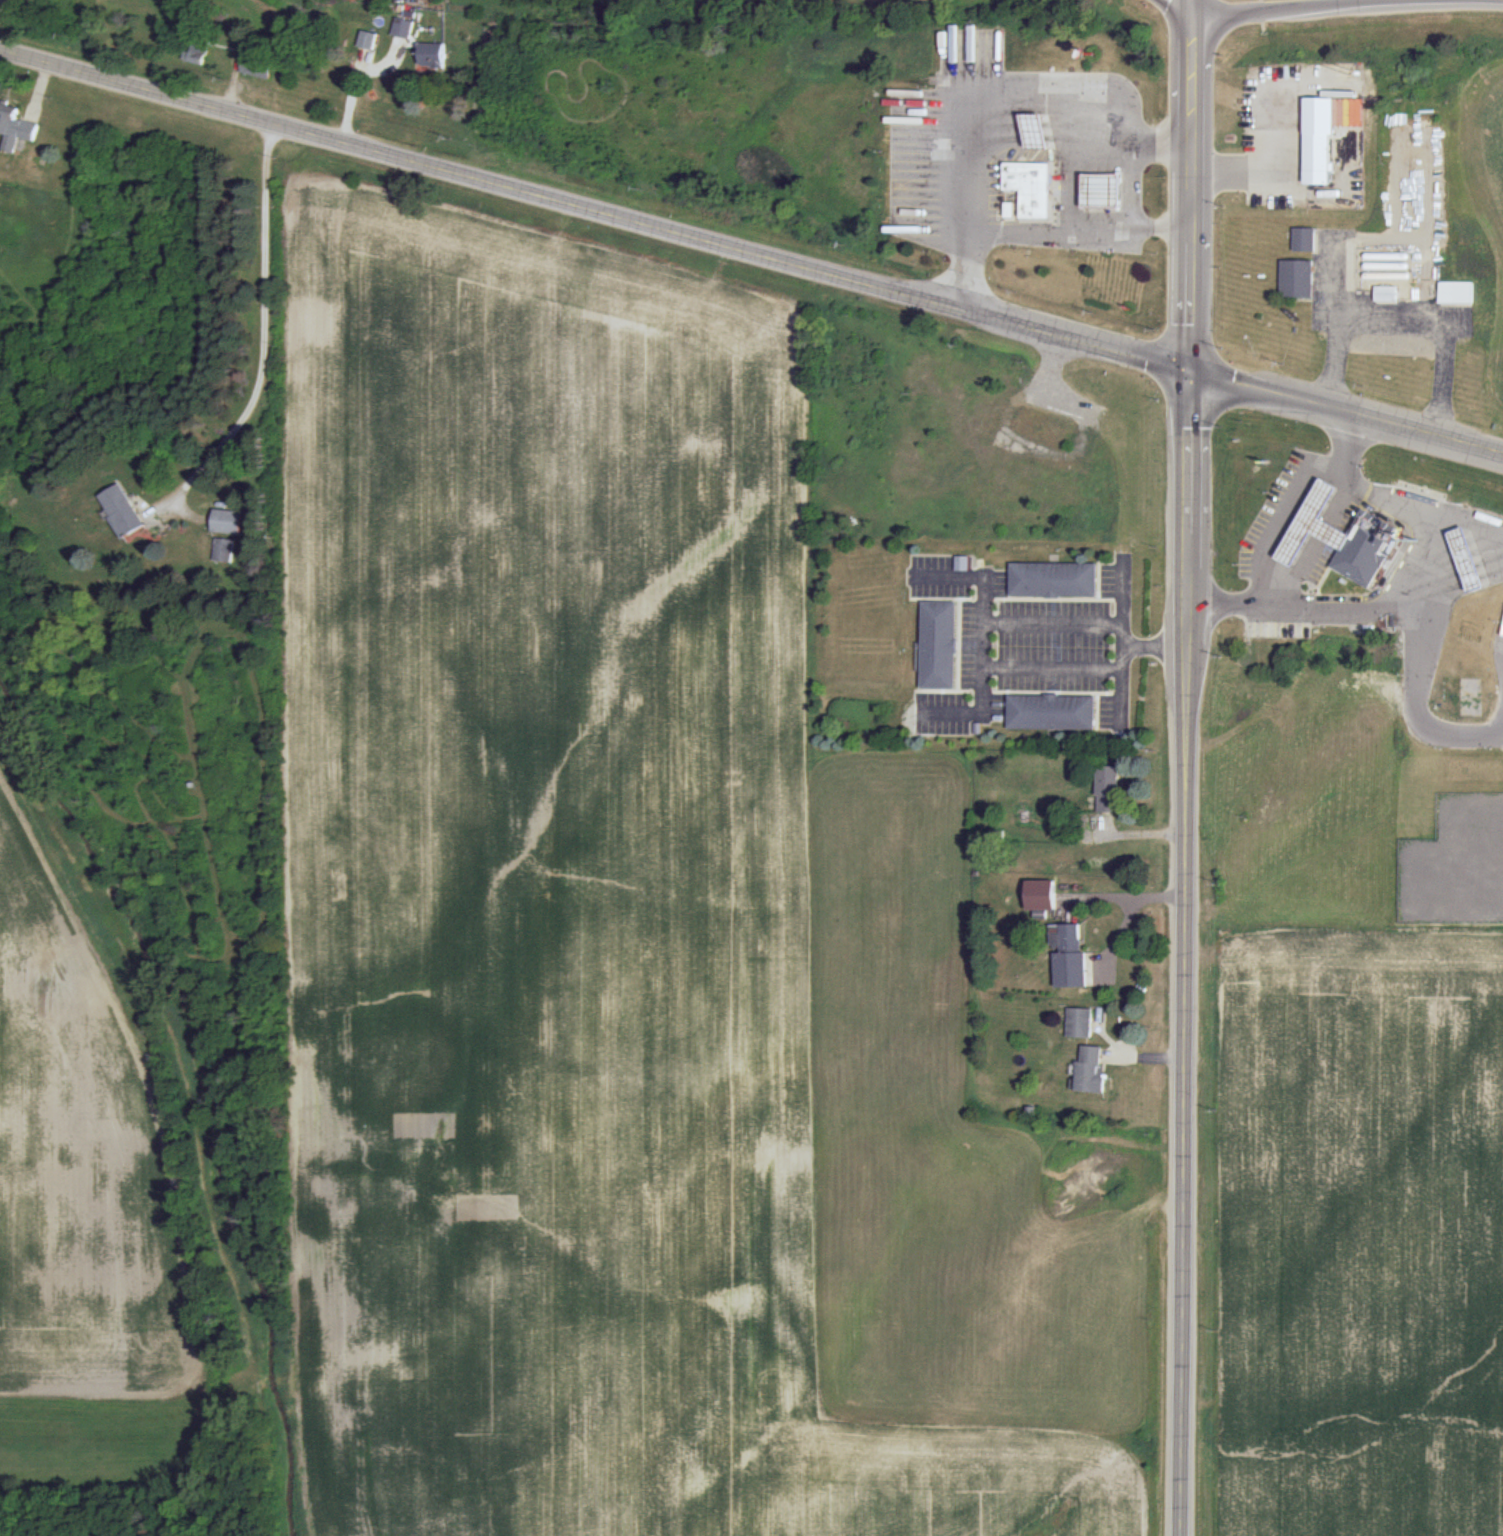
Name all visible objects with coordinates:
road: (1180, 5)
road: (1191, 5)
road: (1290, 7)
building: (402, 27)
building: (366, 39)
building: (196, 52)
building: (431, 54)
parking lot: (971, 54)
building: (256, 66)
road: (1189, 76)
road: (992, 102)
building: (15, 127)
building: (1037, 131)
road: (1271, 133)
building: (1320, 152)
parking lot: (1013, 155)
parking lot: (915, 167)
parking lot: (995, 180)
road: (1189, 183)
building: (1032, 188)
building: (1104, 190)
parking lot: (1060, 191)
road: (594, 208)
road: (1129, 211)
building: (1310, 224)
road: (1051, 235)
building: (1305, 240)
road: (1189, 254)
building: (1297, 278)
building: (1457, 292)
building: (1387, 294)
road: (1405, 321)
road: (1189, 327)
road: (262, 336)
road: (1345, 413)
road: (1187, 507)
building: (121, 510)
parking lot: (1274, 514)
building: (227, 520)
road: (1473, 523)
building: (1315, 524)
road: (1277, 526)
road: (1461, 538)
parking lot: (1327, 542)
road: (1317, 547)
building: (224, 549)
building: (1367, 549)
road: (1465, 549)
building: (1469, 559)
building: (962, 562)
road: (1462, 563)
road: (1391, 571)
road: (1421, 576)
road: (1459, 576)
building: (1055, 579)
road: (1458, 587)
road: (1121, 590)
road: (1051, 622)
road: (981, 641)
road: (1154, 644)
building: (941, 645)
road: (1121, 645)
parking lot: (1498, 661)
road: (1051, 667)
road: (1120, 697)
road: (1416, 705)
building: (1053, 713)
building: (1108, 789)
road: (1471, 859)
building: (1038, 892)
road: (1130, 908)
crop: (487, 912)
building: (1072, 958)
building: (1080, 1021)
building: (1094, 1071)
road: (1181, 1090)
crop: (1341, 1235)

